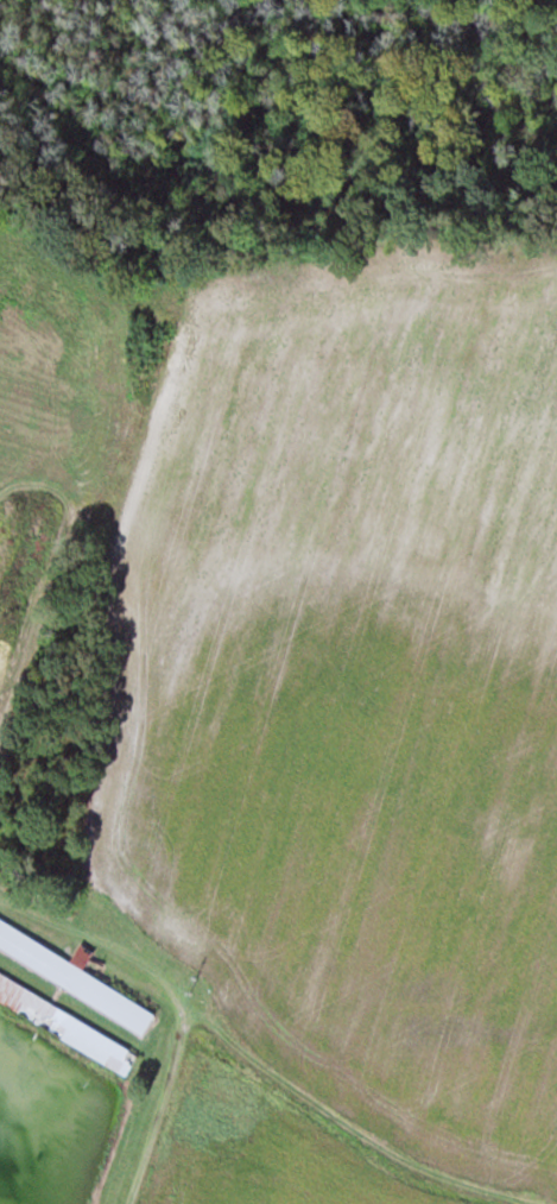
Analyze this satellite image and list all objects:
building: (70, 973)
building: (67, 1025)

